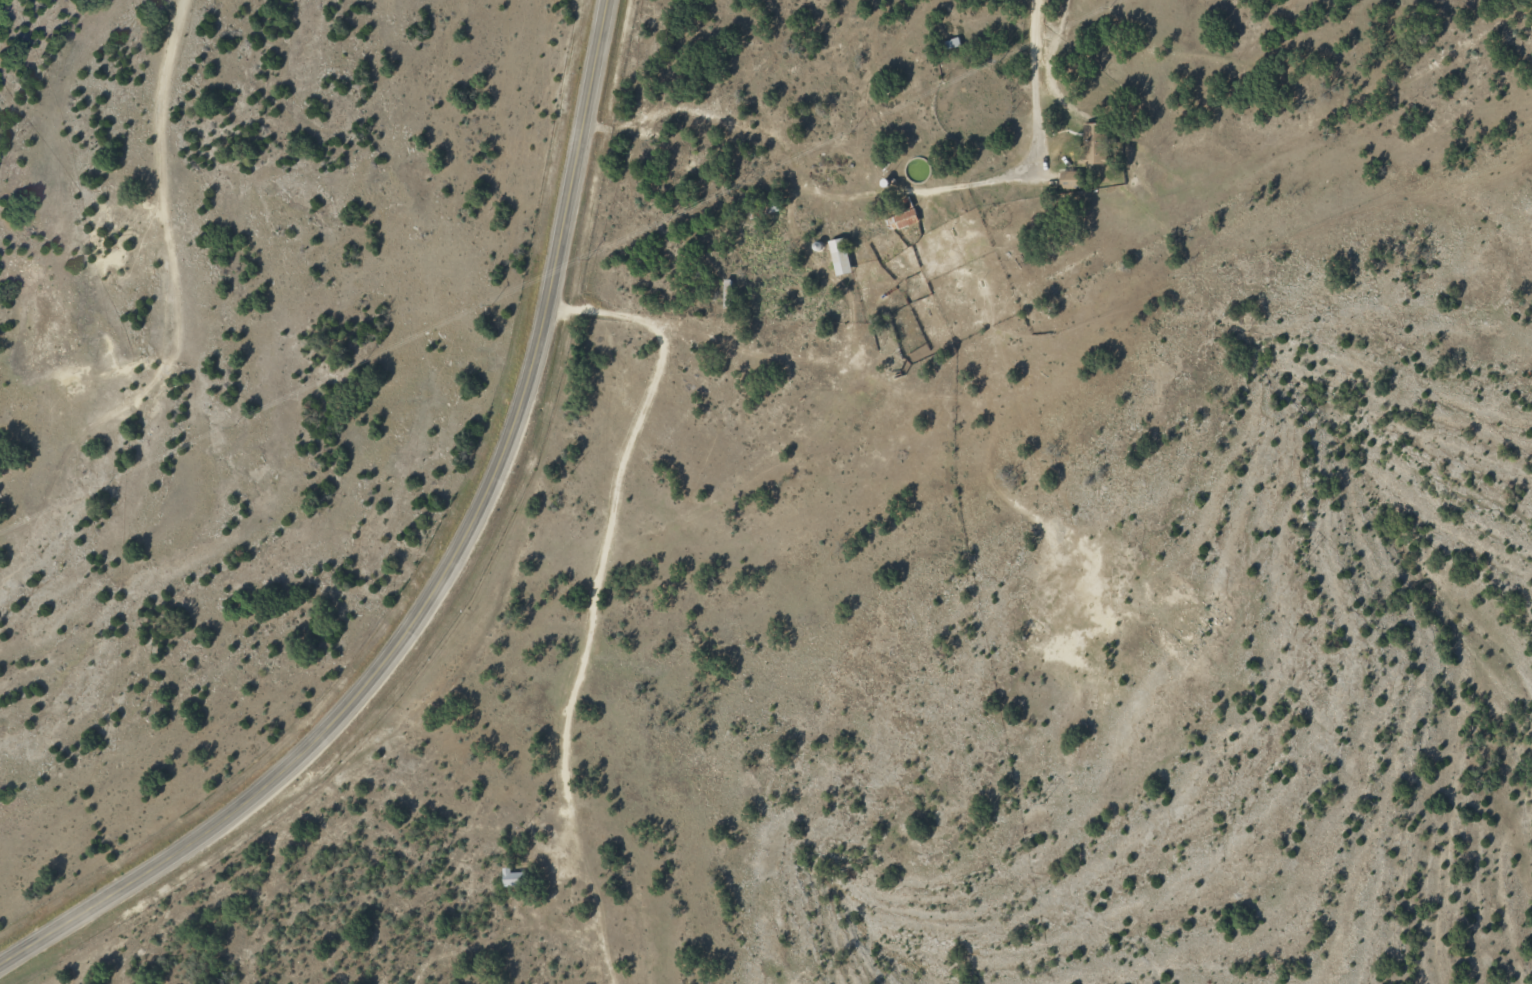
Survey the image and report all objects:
building: (946, 45)
road: (1041, 96)
building: (1088, 145)
building: (896, 218)
building: (834, 258)
power tower: (1304, 563)
road: (449, 578)
power tower: (1036, 804)
building: (509, 879)

